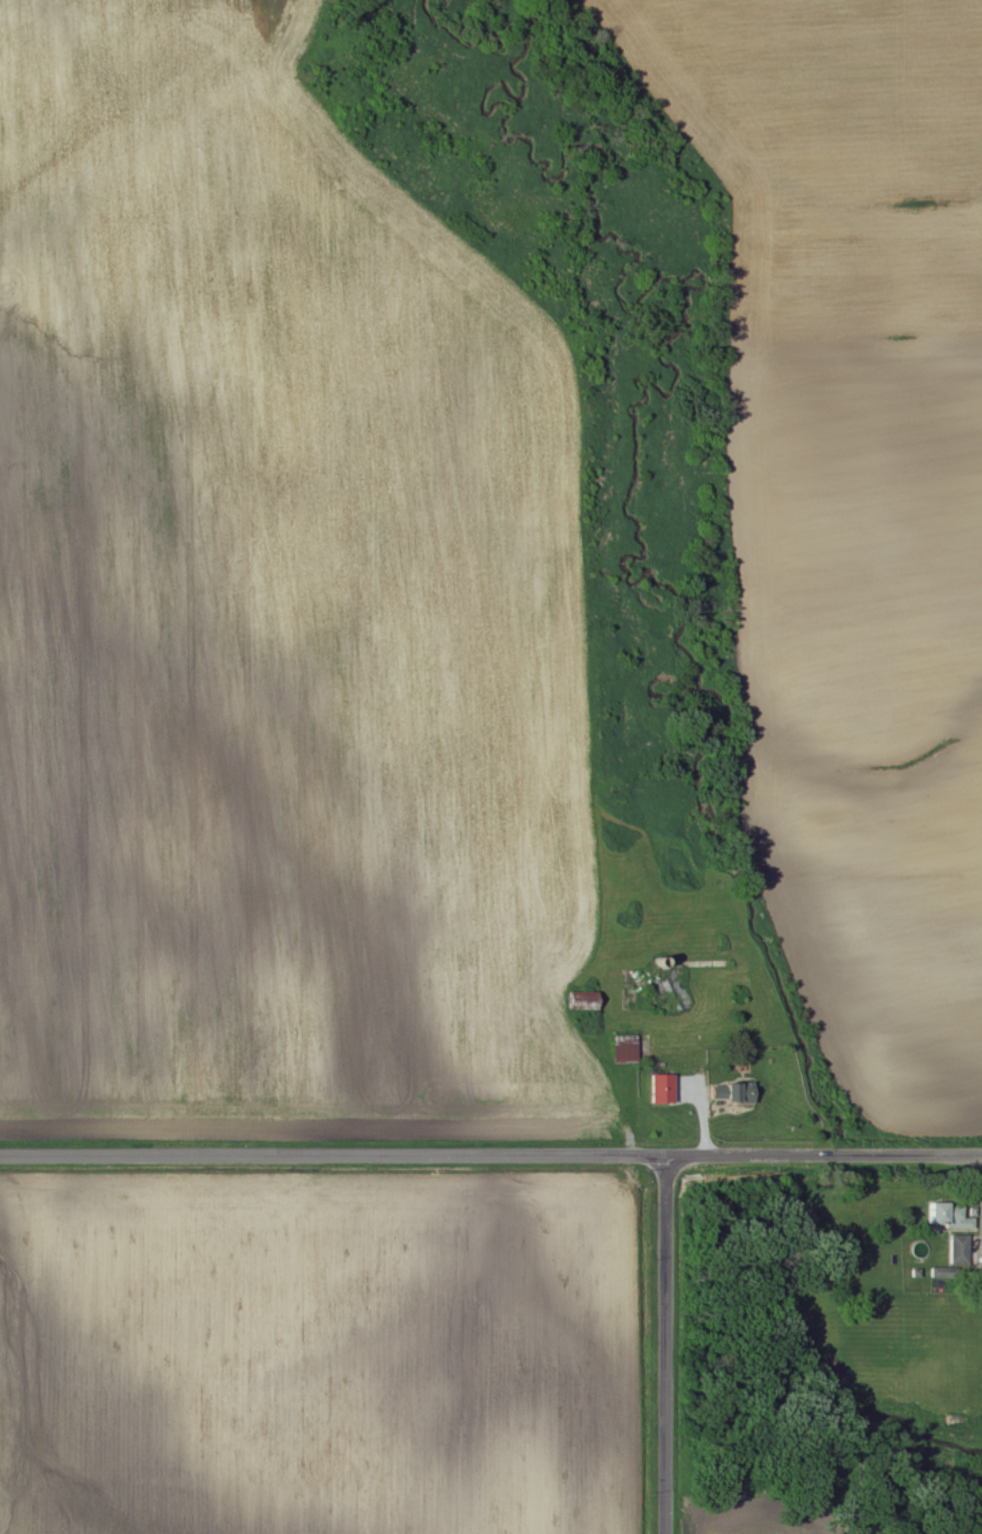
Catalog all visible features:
building: (660, 1081)
road: (703, 1127)
road: (491, 1153)
road: (785, 1182)
road: (663, 1344)

